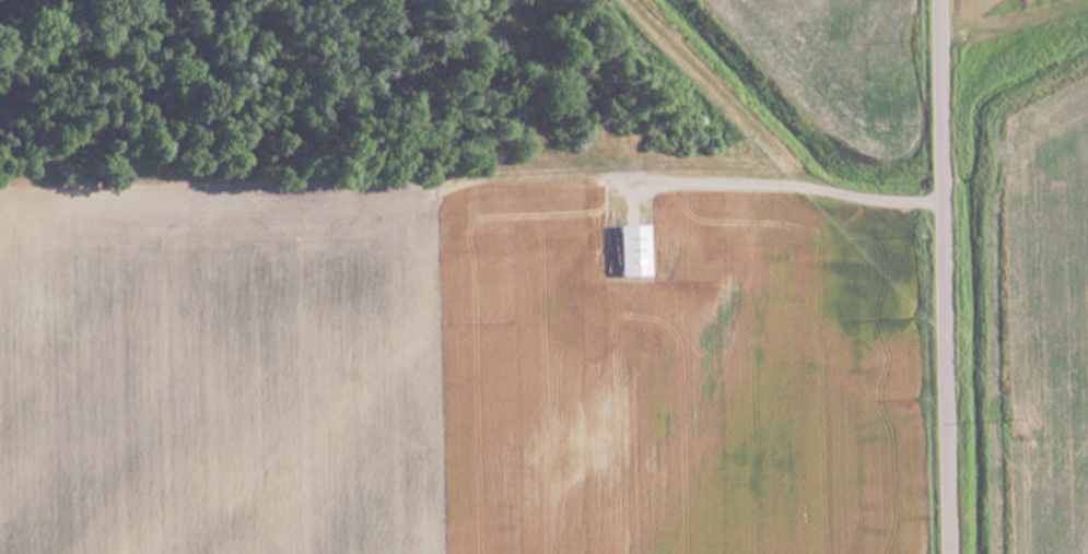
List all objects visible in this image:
building: (784, 8)
road: (791, 170)
building: (628, 250)
road: (947, 276)

